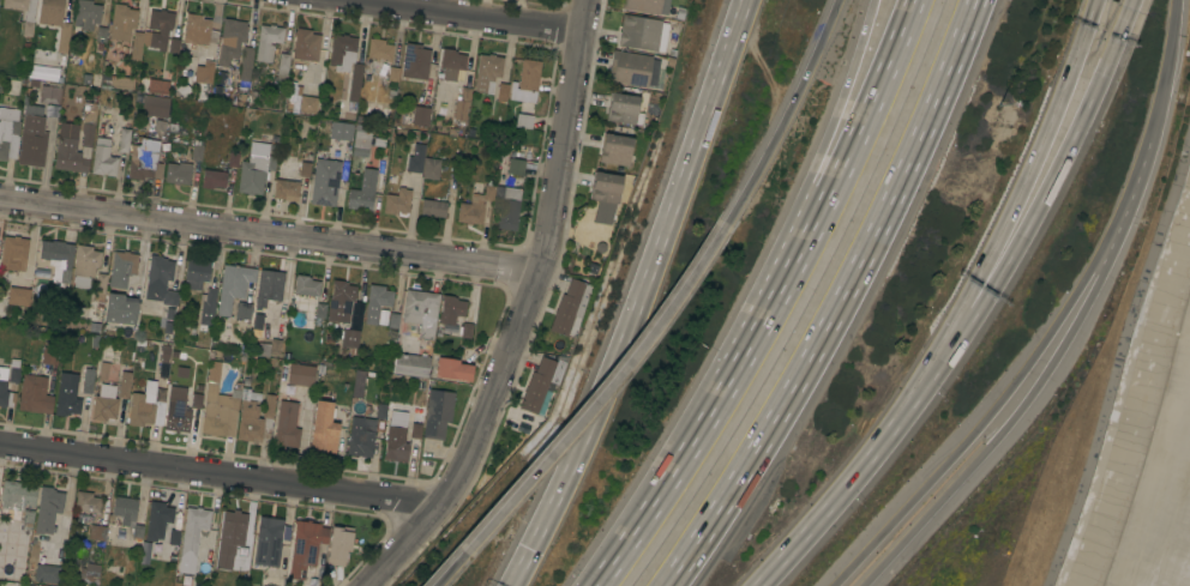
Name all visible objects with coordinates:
road: (741, 0)
road: (741, 0)
road: (1128, 4)
building: (647, 6)
building: (86, 14)
road: (468, 16)
building: (55, 22)
building: (121, 22)
building: (28, 23)
building: (160, 28)
building: (196, 30)
building: (639, 32)
building: (230, 41)
building: (268, 42)
building: (137, 46)
building: (306, 46)
building: (379, 49)
building: (415, 61)
building: (345, 62)
building: (246, 64)
building: (282, 67)
building: (453, 67)
building: (633, 68)
road: (1165, 71)
building: (393, 73)
building: (487, 73)
building: (204, 75)
building: (527, 81)
building: (125, 83)
building: (158, 86)
building: (50, 93)
building: (297, 101)
building: (461, 104)
building: (155, 107)
building: (624, 109)
building: (379, 110)
road: (785, 113)
building: (416, 119)
building: (523, 121)
building: (341, 131)
building: (8, 133)
building: (32, 137)
building: (124, 140)
road: (827, 140)
building: (76, 146)
building: (197, 150)
building: (615, 150)
building: (103, 158)
building: (415, 159)
building: (143, 164)
building: (516, 167)
building: (431, 169)
building: (361, 170)
building: (254, 173)
building: (178, 174)
road: (1026, 174)
building: (214, 179)
building: (325, 182)
road: (1048, 182)
road: (1134, 186)
building: (605, 187)
building: (287, 189)
building: (397, 201)
building: (475, 206)
building: (506, 206)
building: (432, 209)
road: (269, 236)
building: (13, 252)
building: (58, 261)
building: (85, 265)
building: (125, 267)
building: (196, 274)
building: (101, 285)
building: (233, 286)
building: (306, 286)
building: (269, 288)
road: (644, 288)
building: (162, 289)
building: (18, 296)
building: (341, 301)
building: (377, 302)
road: (837, 302)
road: (770, 304)
building: (571, 307)
building: (121, 309)
building: (208, 309)
building: (450, 309)
building: (242, 310)
road: (521, 310)
building: (421, 312)
building: (468, 328)
building: (350, 338)
building: (50, 354)
building: (410, 364)
building: (452, 370)
building: (301, 375)
building: (88, 379)
building: (541, 381)
building: (124, 382)
building: (359, 382)
building: (5, 391)
road: (601, 393)
building: (35, 394)
building: (67, 395)
building: (108, 405)
building: (146, 409)
building: (218, 412)
building: (176, 413)
building: (438, 413)
building: (268, 416)
road: (986, 417)
building: (248, 419)
road: (1008, 421)
building: (287, 424)
building: (324, 429)
building: (415, 429)
building: (361, 436)
building: (396, 439)
road: (857, 469)
road: (221, 477)
building: (18, 501)
building: (86, 502)
building: (47, 509)
building: (125, 509)
building: (157, 520)
building: (137, 532)
building: (97, 533)
building: (174, 537)
building: (230, 537)
building: (193, 542)
building: (269, 542)
building: (305, 546)
building: (338, 546)
road: (447, 569)
building: (48, 573)
building: (90, 574)
road: (517, 575)

